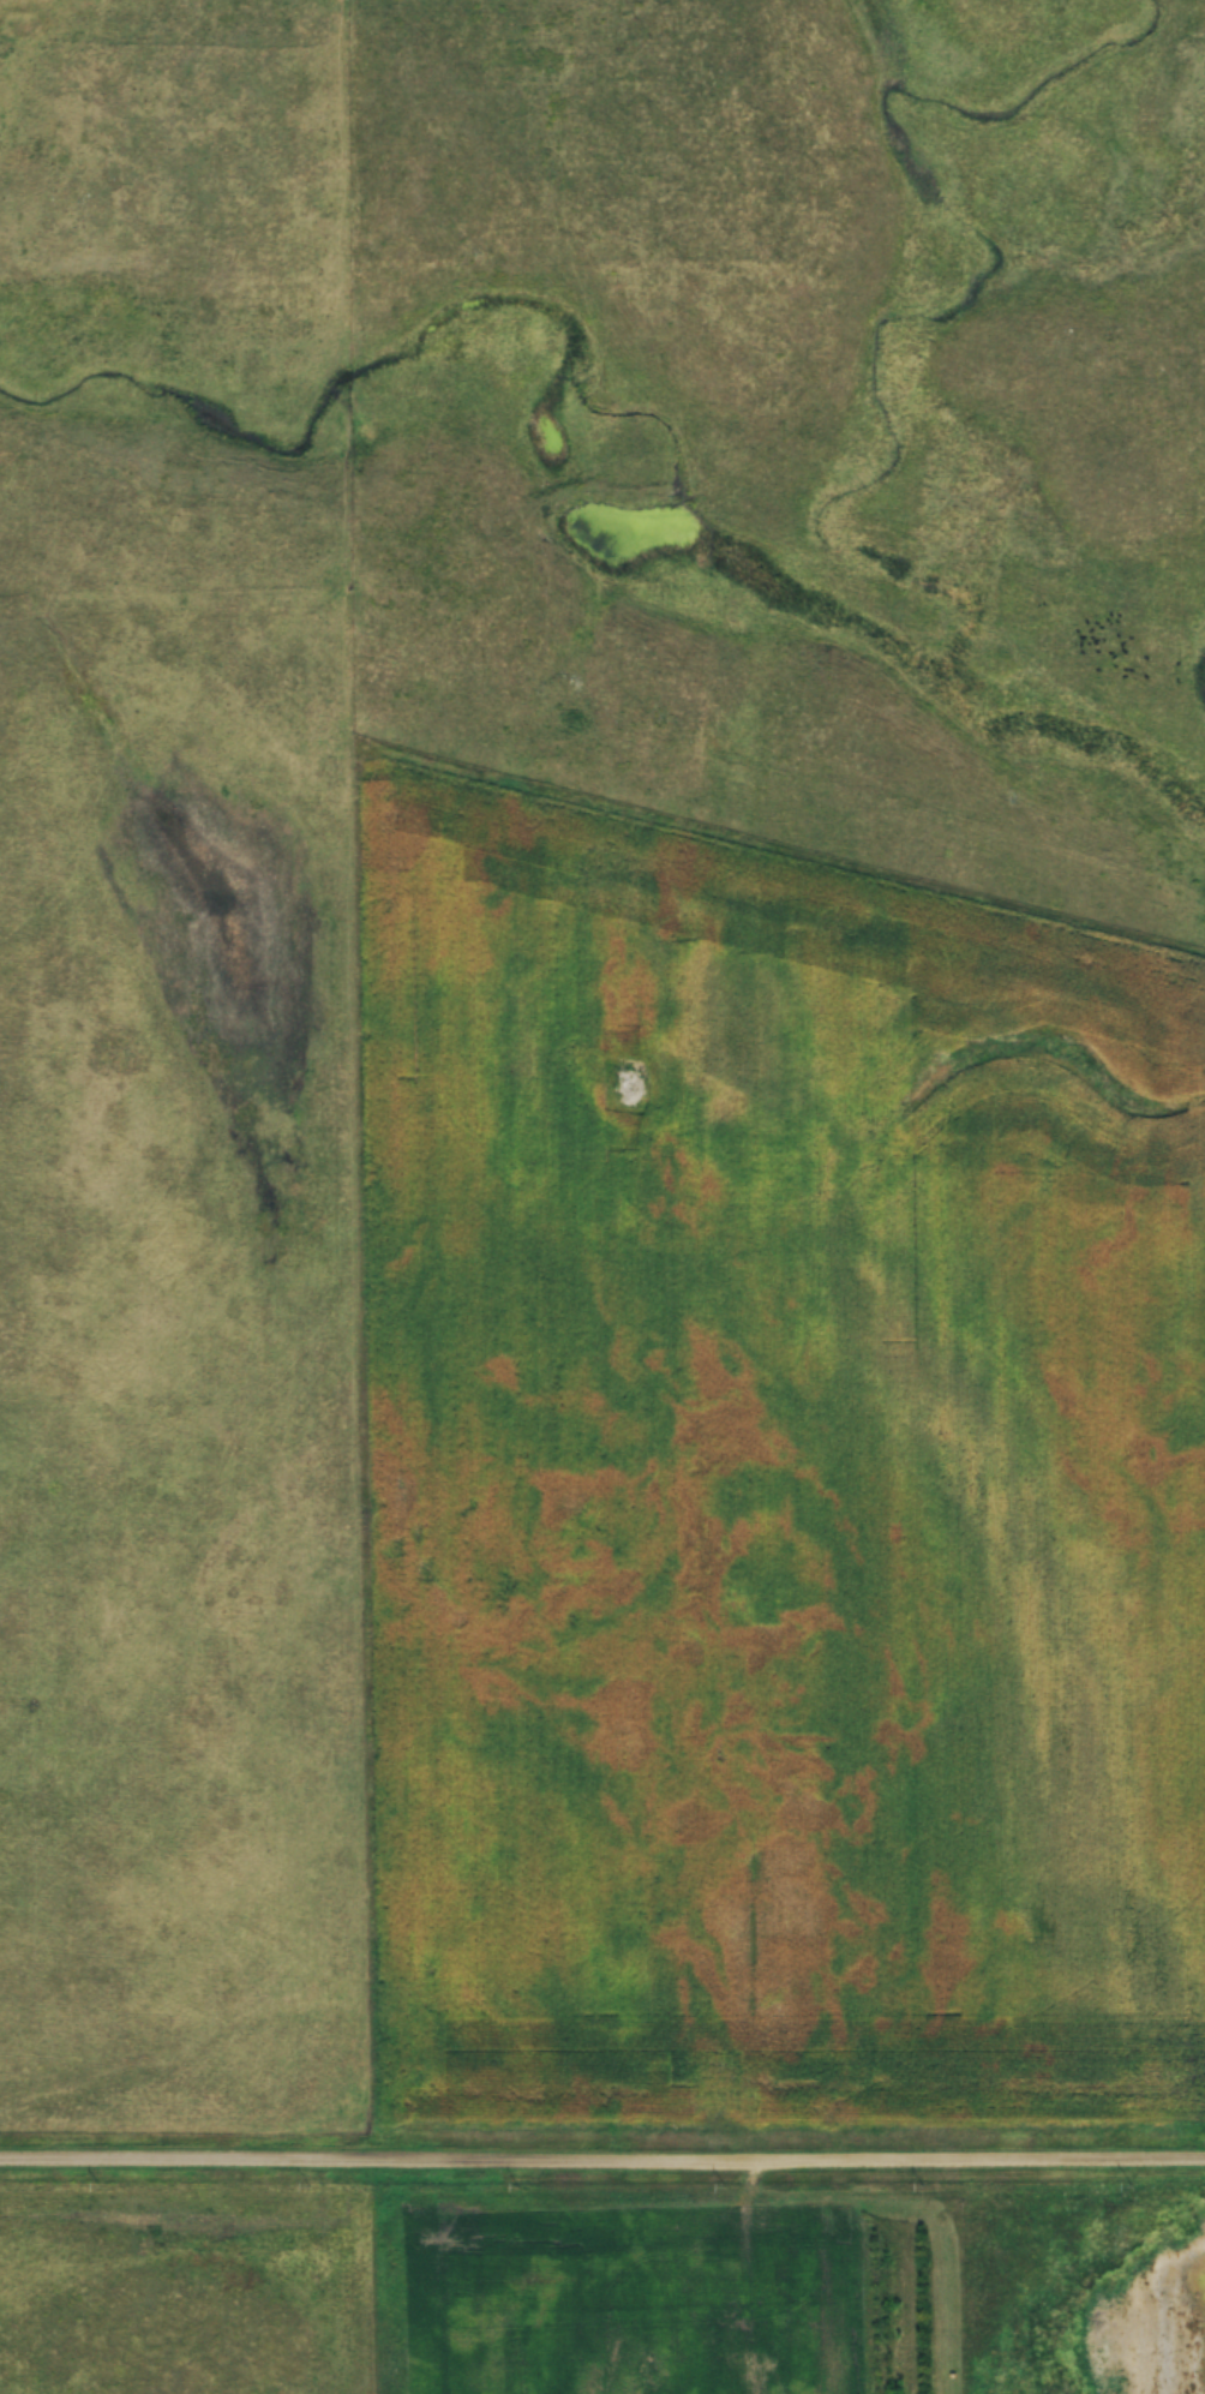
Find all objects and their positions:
road: (602, 2161)

